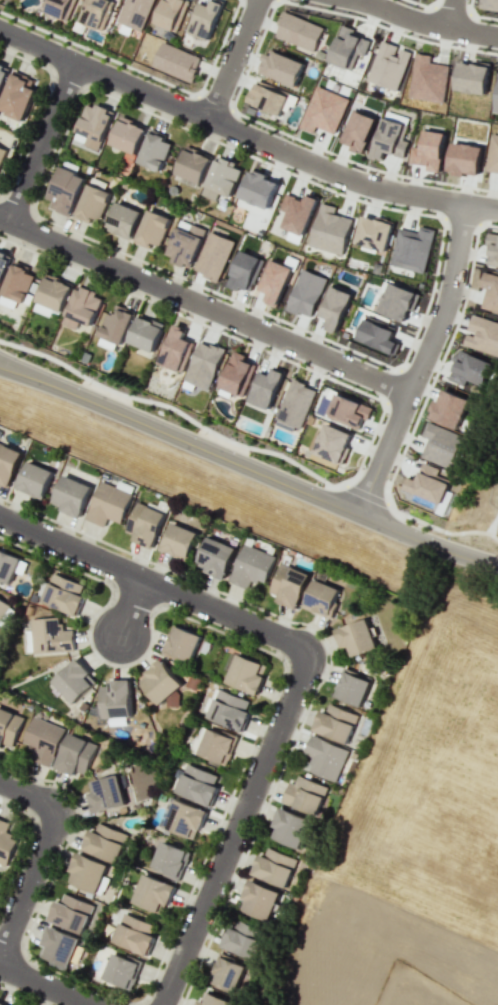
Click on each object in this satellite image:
building: (490, 4)
building: (60, 8)
building: (96, 13)
building: (134, 13)
road: (451, 13)
building: (170, 14)
building: (206, 19)
road: (425, 22)
building: (298, 31)
street lamp: (456, 44)
road: (232, 58)
building: (176, 62)
building: (388, 65)
building: (281, 68)
building: (2, 73)
building: (472, 78)
building: (427, 79)
building: (17, 96)
building: (268, 97)
building: (496, 98)
building: (323, 111)
building: (92, 125)
street lamp: (190, 127)
building: (358, 131)
road: (244, 134)
building: (127, 135)
street lamp: (291, 138)
building: (389, 140)
road: (40, 141)
building: (154, 150)
building: (428, 150)
building: (1, 153)
building: (492, 154)
building: (464, 159)
building: (192, 164)
building: (220, 179)
building: (257, 190)
street lamp: (477, 190)
street lamp: (363, 198)
building: (93, 200)
building: (298, 212)
building: (123, 220)
building: (152, 229)
building: (330, 230)
building: (373, 233)
street lamp: (97, 243)
building: (184, 243)
building: (411, 249)
building: (493, 249)
building: (213, 256)
building: (3, 263)
building: (245, 272)
building: (276, 280)
building: (17, 283)
street lamp: (435, 288)
building: (306, 293)
building: (52, 295)
building: (398, 302)
road: (204, 305)
building: (335, 307)
building: (82, 308)
street lamp: (175, 309)
street lamp: (277, 320)
building: (146, 333)
building: (378, 335)
building: (482, 335)
building: (177, 350)
road: (421, 363)
building: (204, 364)
building: (469, 369)
street lamp: (325, 373)
building: (238, 375)
street lamp: (432, 377)
street lamp: (88, 383)
building: (266, 388)
building: (296, 403)
building: (449, 408)
building: (349, 410)
park: (175, 413)
street lamp: (204, 435)
building: (333, 444)
building: (441, 444)
building: (8, 463)
street lamp: (363, 464)
road: (247, 469)
building: (35, 480)
street lamp: (321, 483)
building: (427, 484)
road: (366, 494)
building: (72, 496)
building: (110, 502)
building: (145, 525)
street lamp: (440, 533)
building: (179, 541)
building: (217, 557)
street lamp: (149, 562)
building: (8, 566)
building: (252, 566)
road: (152, 582)
building: (290, 585)
building: (64, 594)
building: (322, 595)
road: (131, 605)
building: (3, 607)
building: (357, 637)
building: (182, 643)
street lamp: (106, 664)
building: (246, 674)
building: (75, 681)
building: (161, 682)
building: (352, 688)
building: (116, 701)
building: (229, 710)
building: (335, 723)
building: (9, 727)
building: (44, 740)
building: (217, 746)
building: (76, 755)
building: (324, 758)
building: (198, 785)
building: (107, 794)
building: (305, 795)
building: (185, 819)
building: (290, 827)
road: (234, 829)
building: (105, 842)
building: (6, 843)
crop: (422, 846)
road: (38, 853)
building: (171, 860)
building: (274, 867)
building: (89, 873)
building: (153, 894)
building: (259, 900)
building: (71, 913)
building: (135, 934)
building: (241, 940)
building: (59, 946)
building: (122, 970)
building: (228, 974)
road: (45, 985)
building: (212, 999)
building: (2, 1003)

